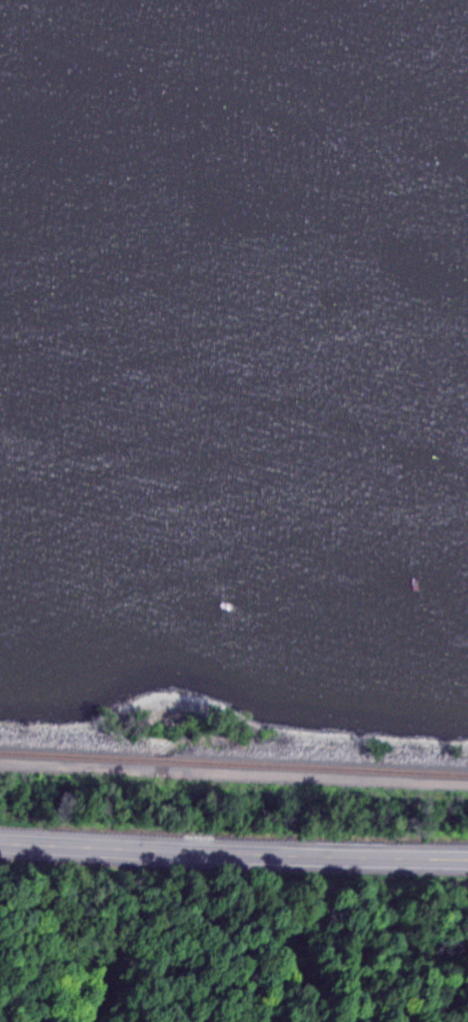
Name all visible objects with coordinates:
railway: (76, 757)
railway: (162, 761)
railway: (320, 768)
road: (234, 849)

